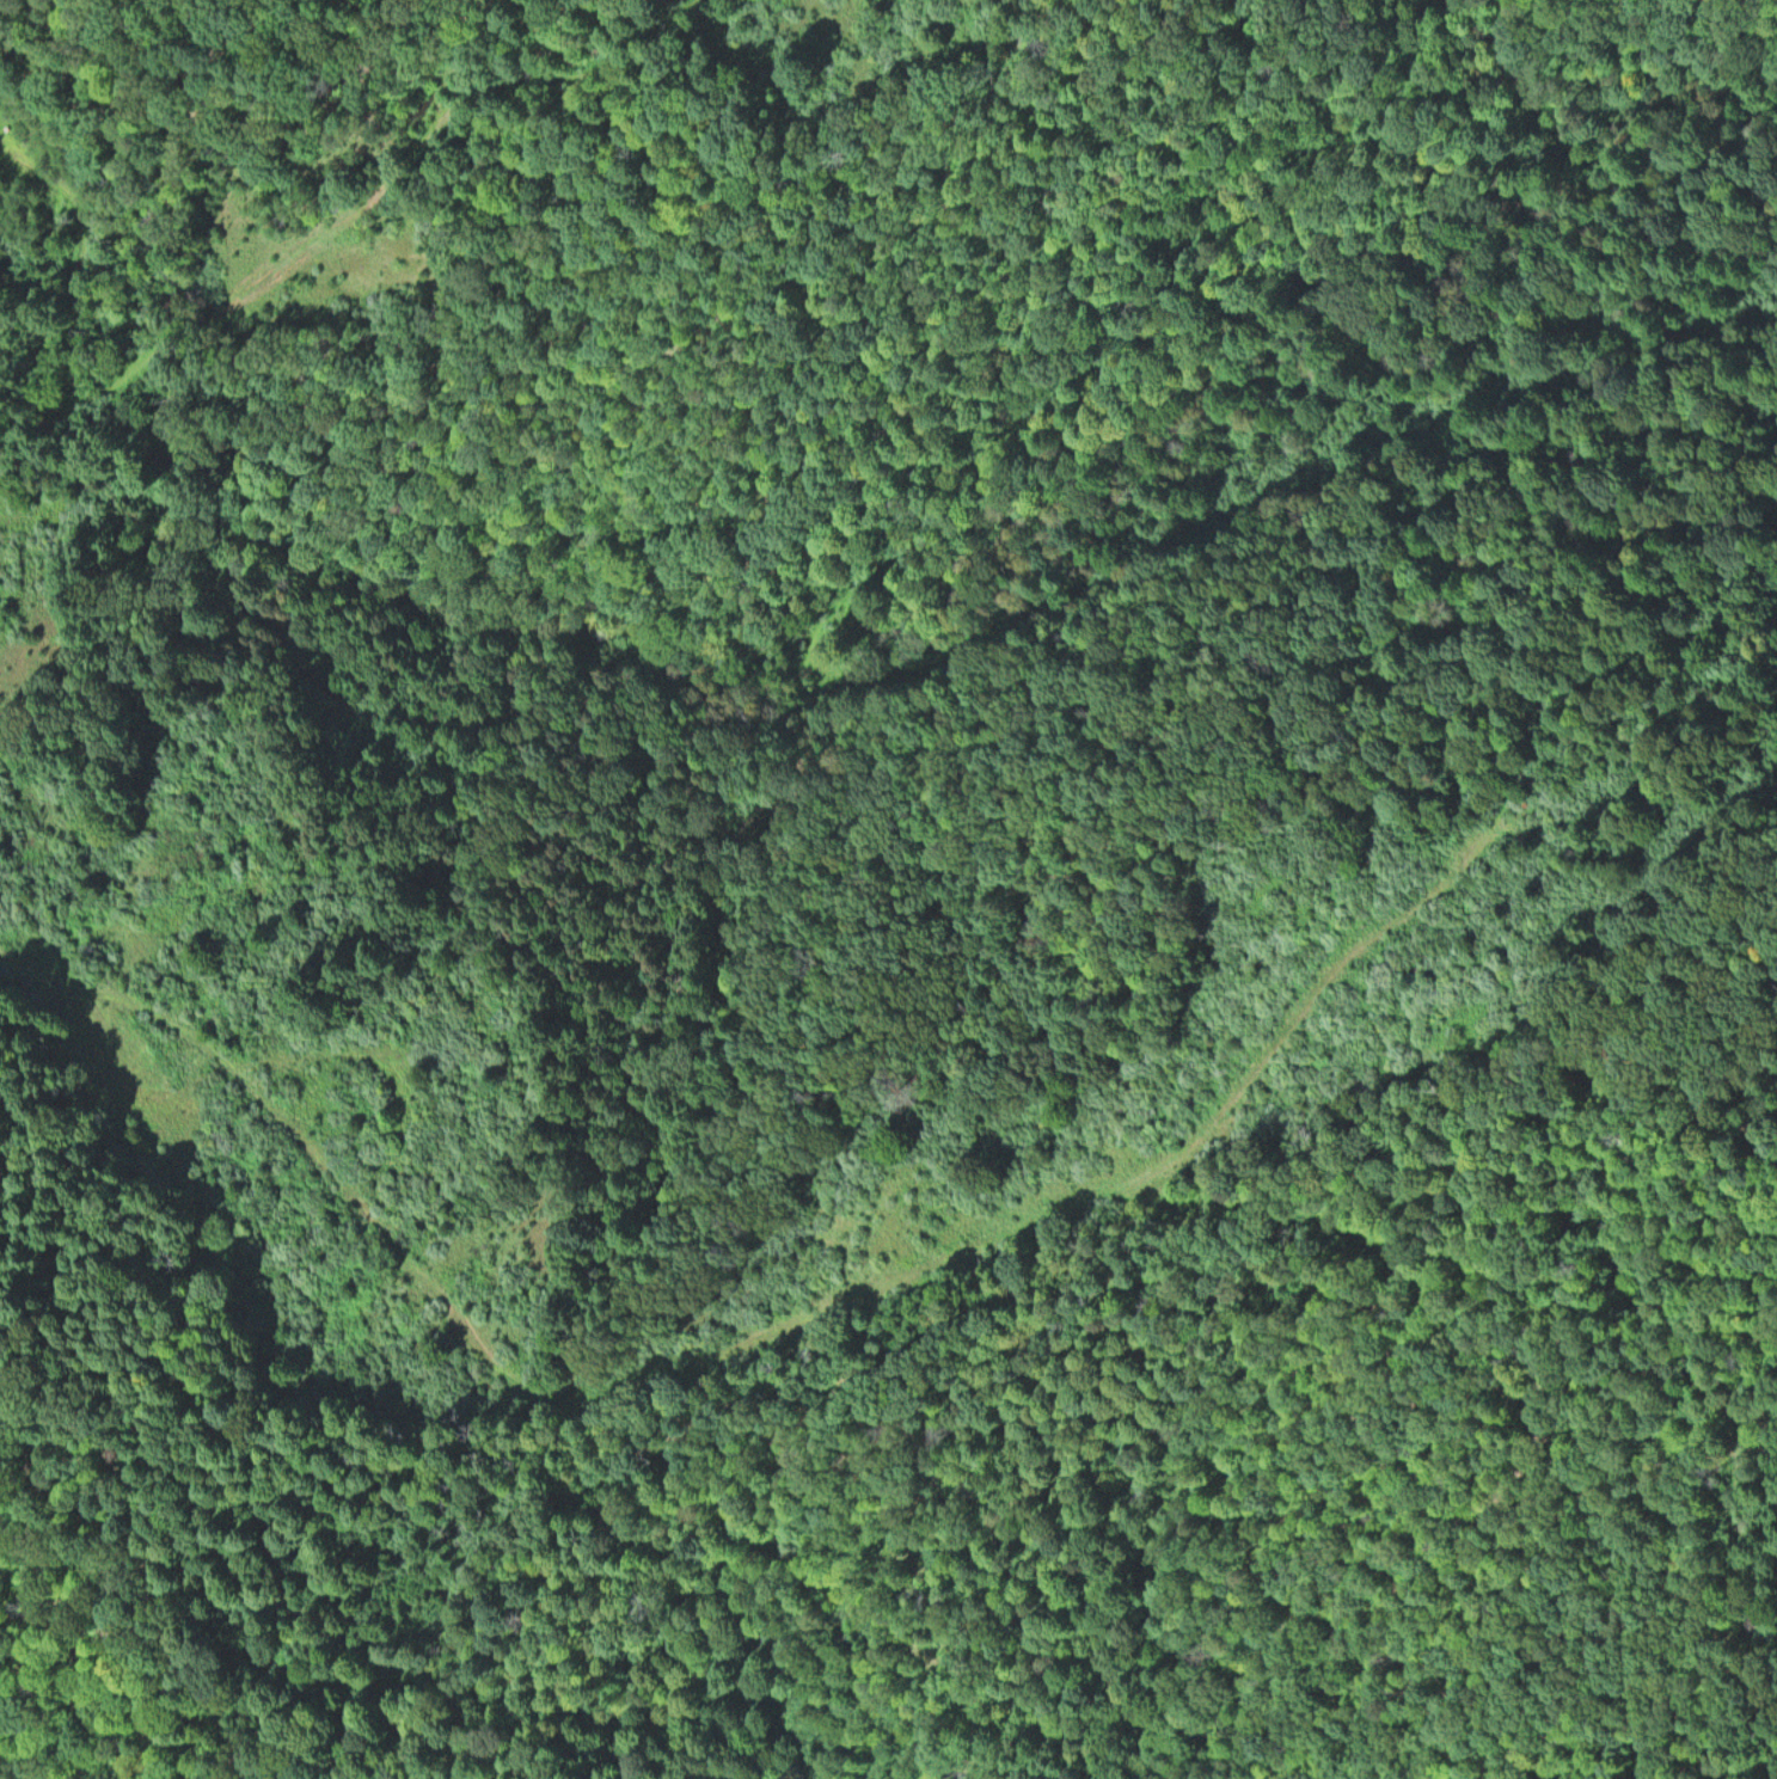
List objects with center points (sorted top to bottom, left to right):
road: (368, 190)
road: (78, 311)
road: (921, 1264)

